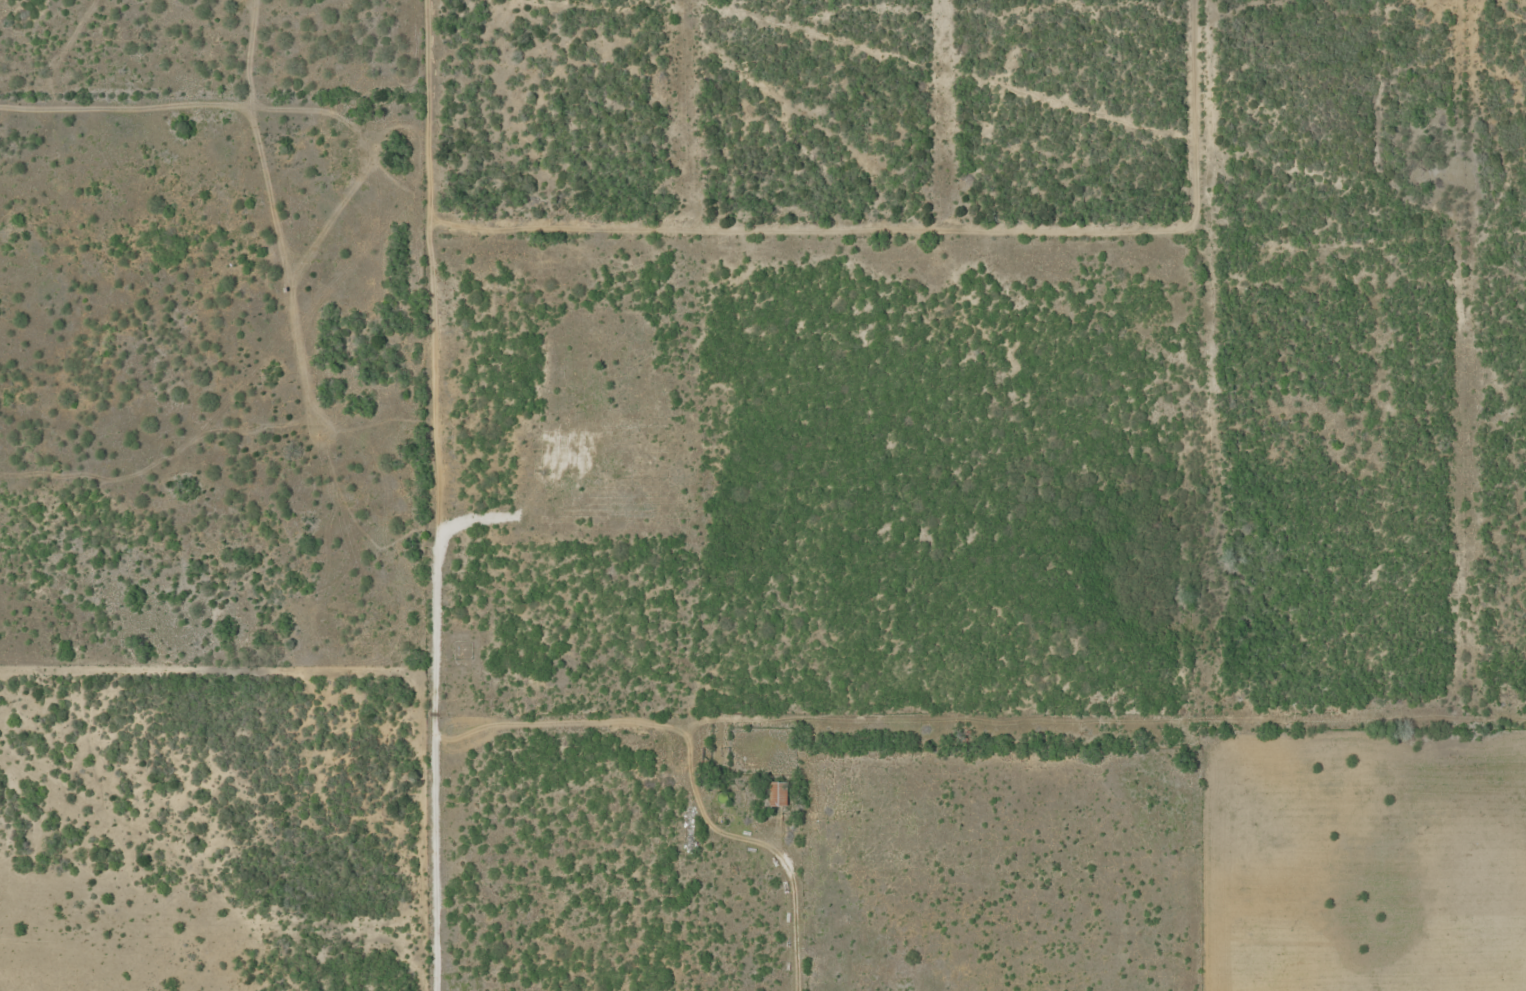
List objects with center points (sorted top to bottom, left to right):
building: (778, 793)

